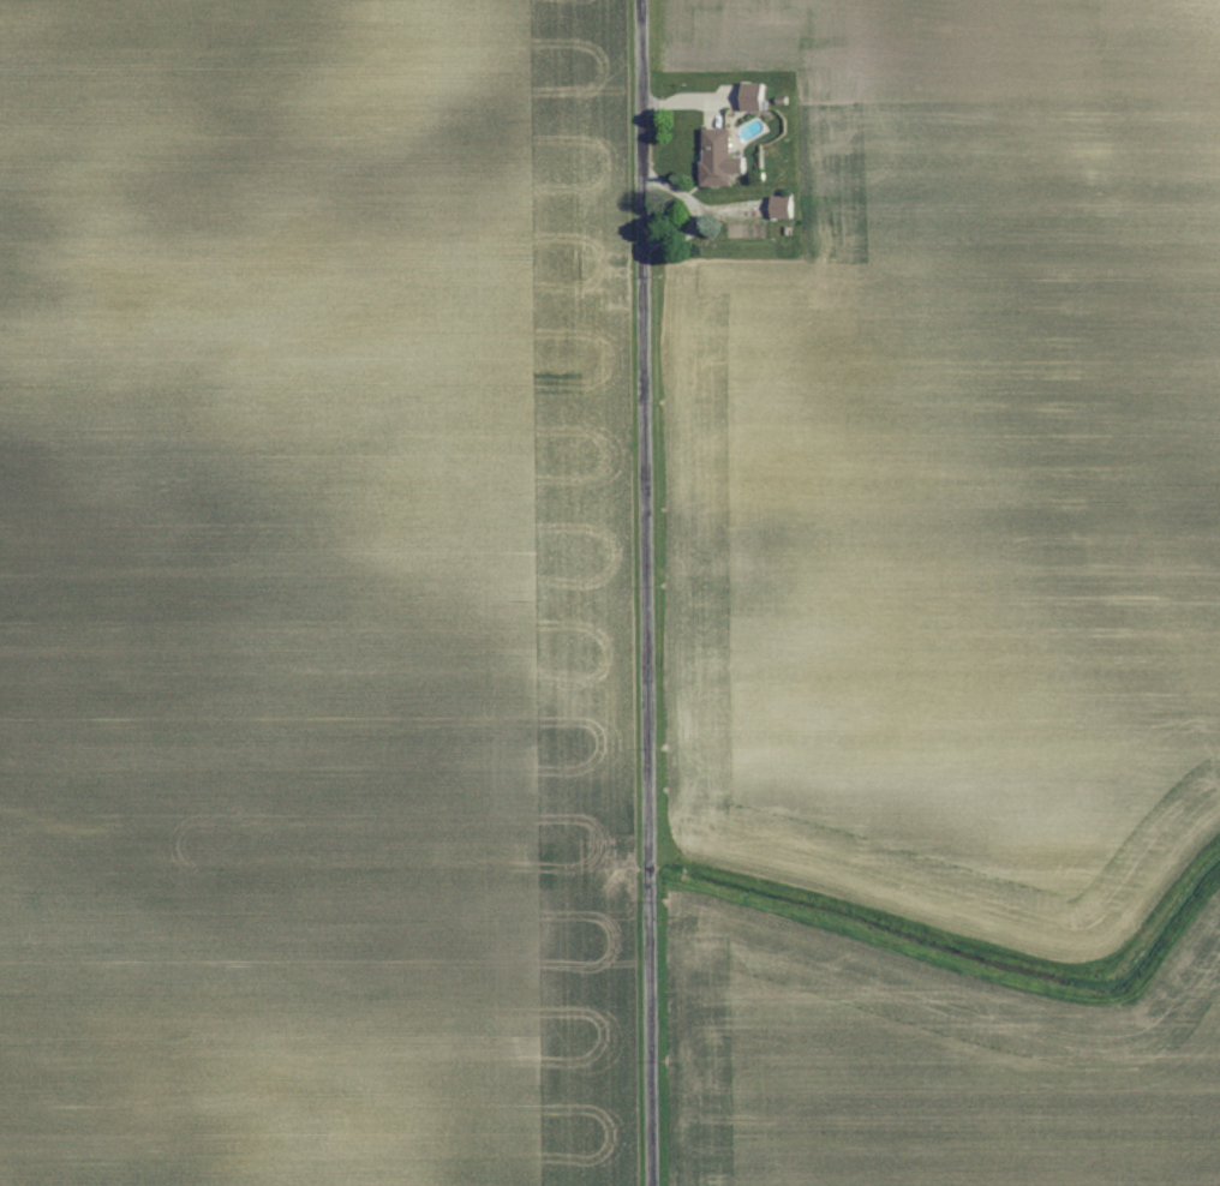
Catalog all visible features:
building: (752, 96)
building: (716, 157)
building: (781, 208)
road: (651, 593)

